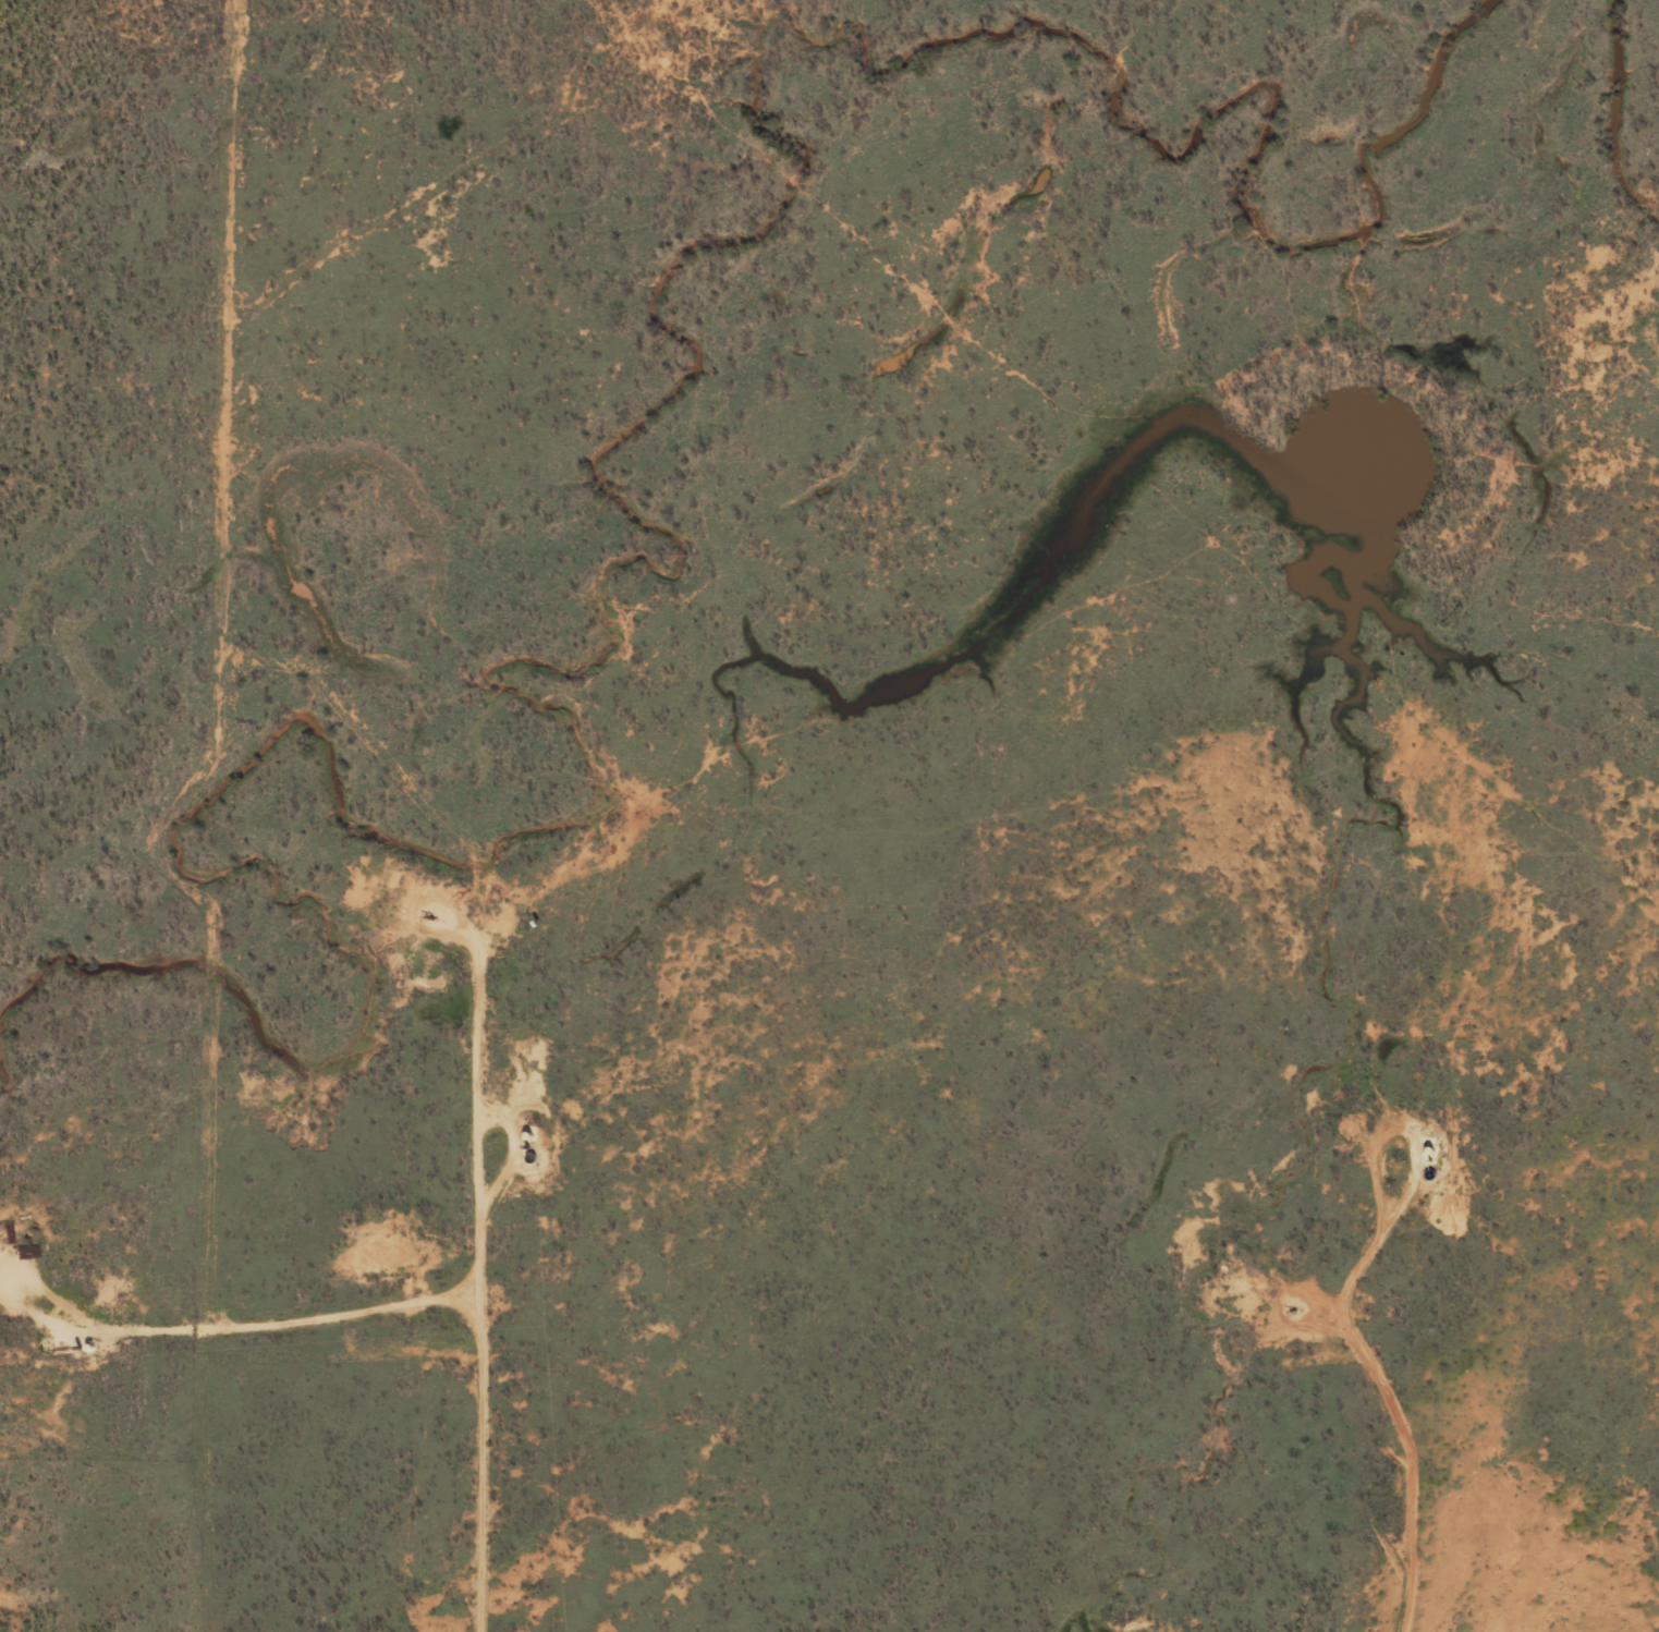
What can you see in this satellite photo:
road: (1602, 668)
road: (232, 698)
road: (476, 1117)

